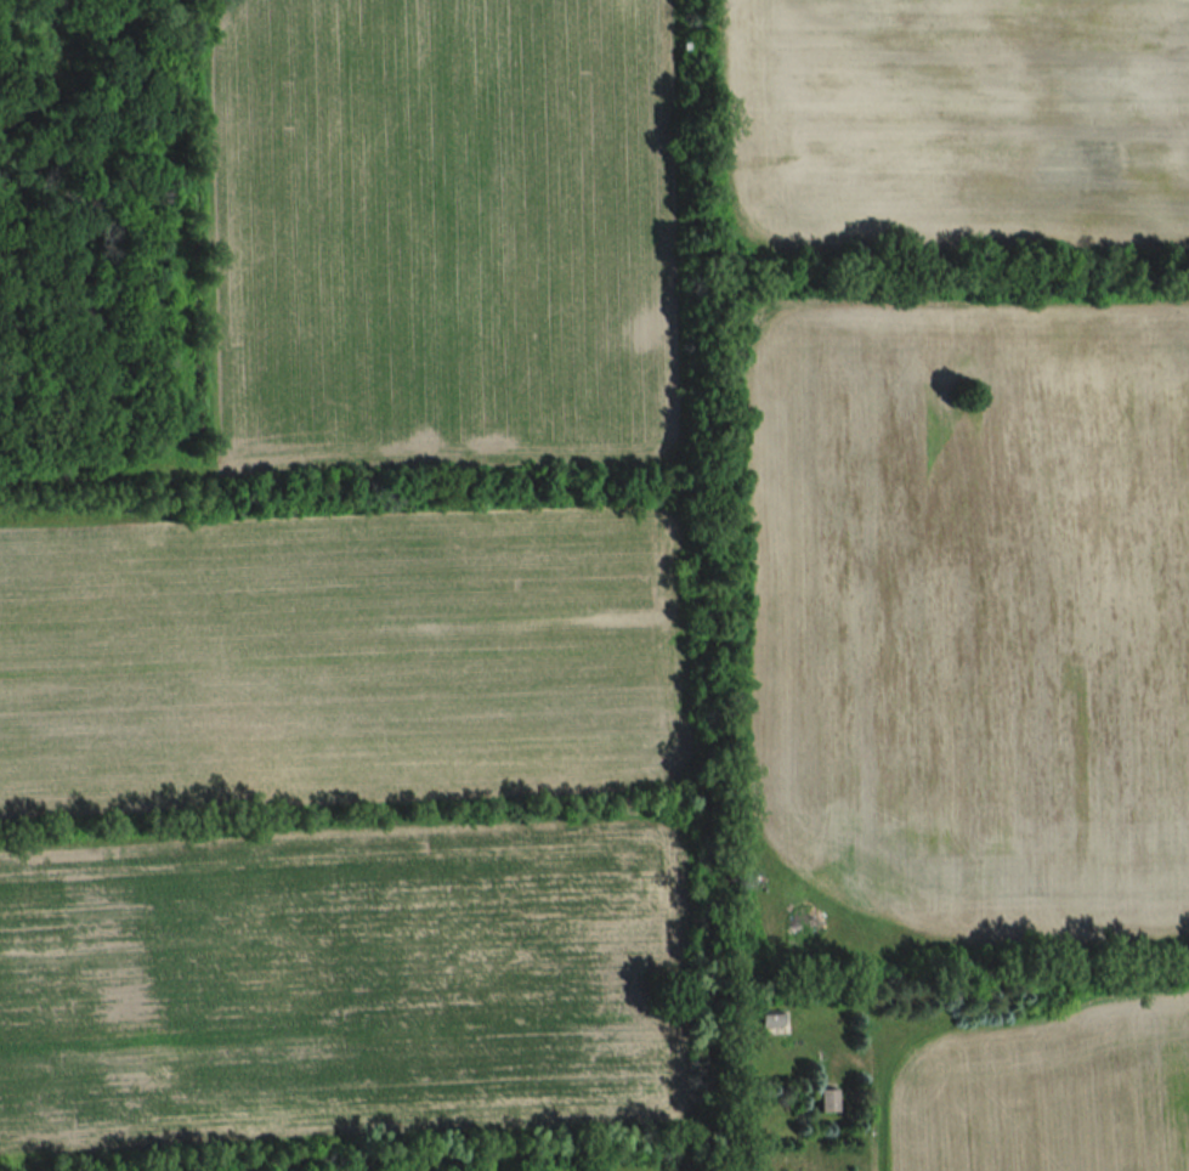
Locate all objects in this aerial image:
crop: (951, 123)
crop: (437, 236)
crop: (967, 596)
crop: (335, 654)
crop: (341, 986)
building: (769, 1020)
crop: (1046, 1090)
building: (826, 1101)

